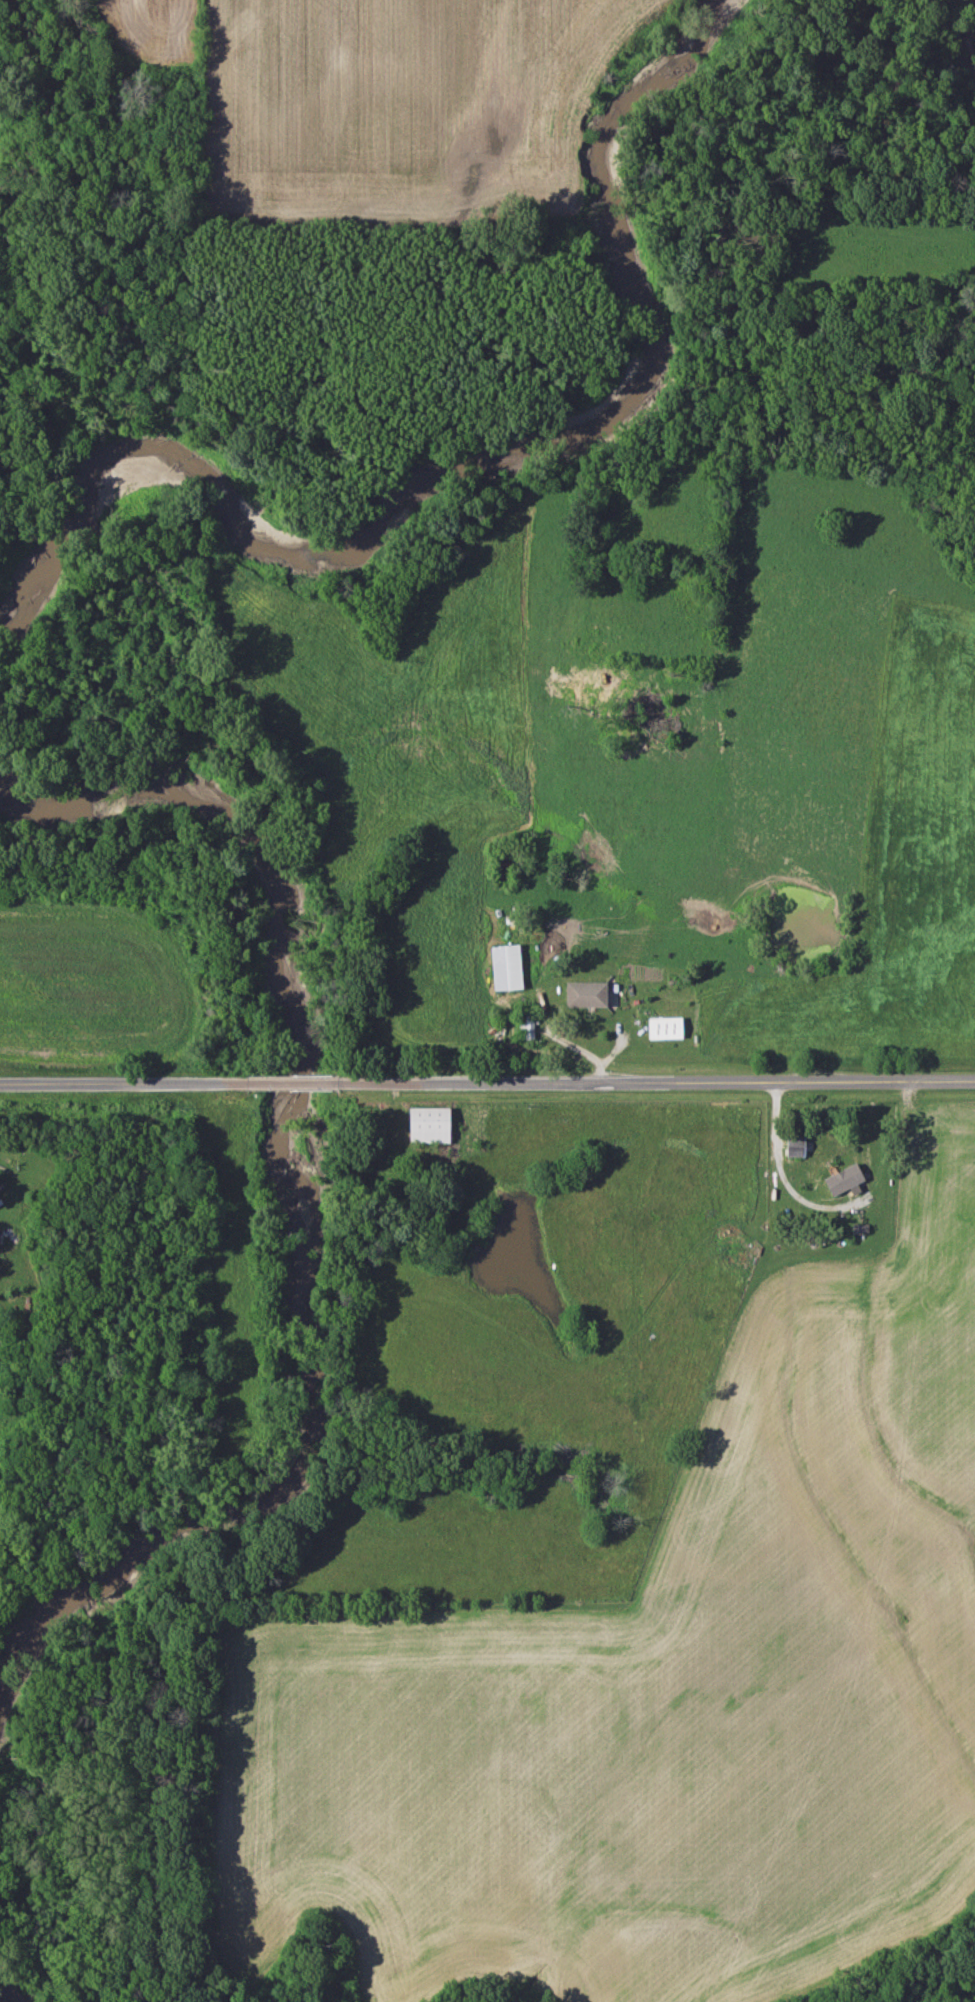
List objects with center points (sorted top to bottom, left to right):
river: (518, 461)
building: (510, 968)
building: (595, 994)
building: (530, 1025)
building: (668, 1028)
road: (658, 1080)
road: (295, 1082)
road: (124, 1083)
building: (436, 1124)
building: (815, 1145)
river: (301, 1189)
river: (10, 1992)

